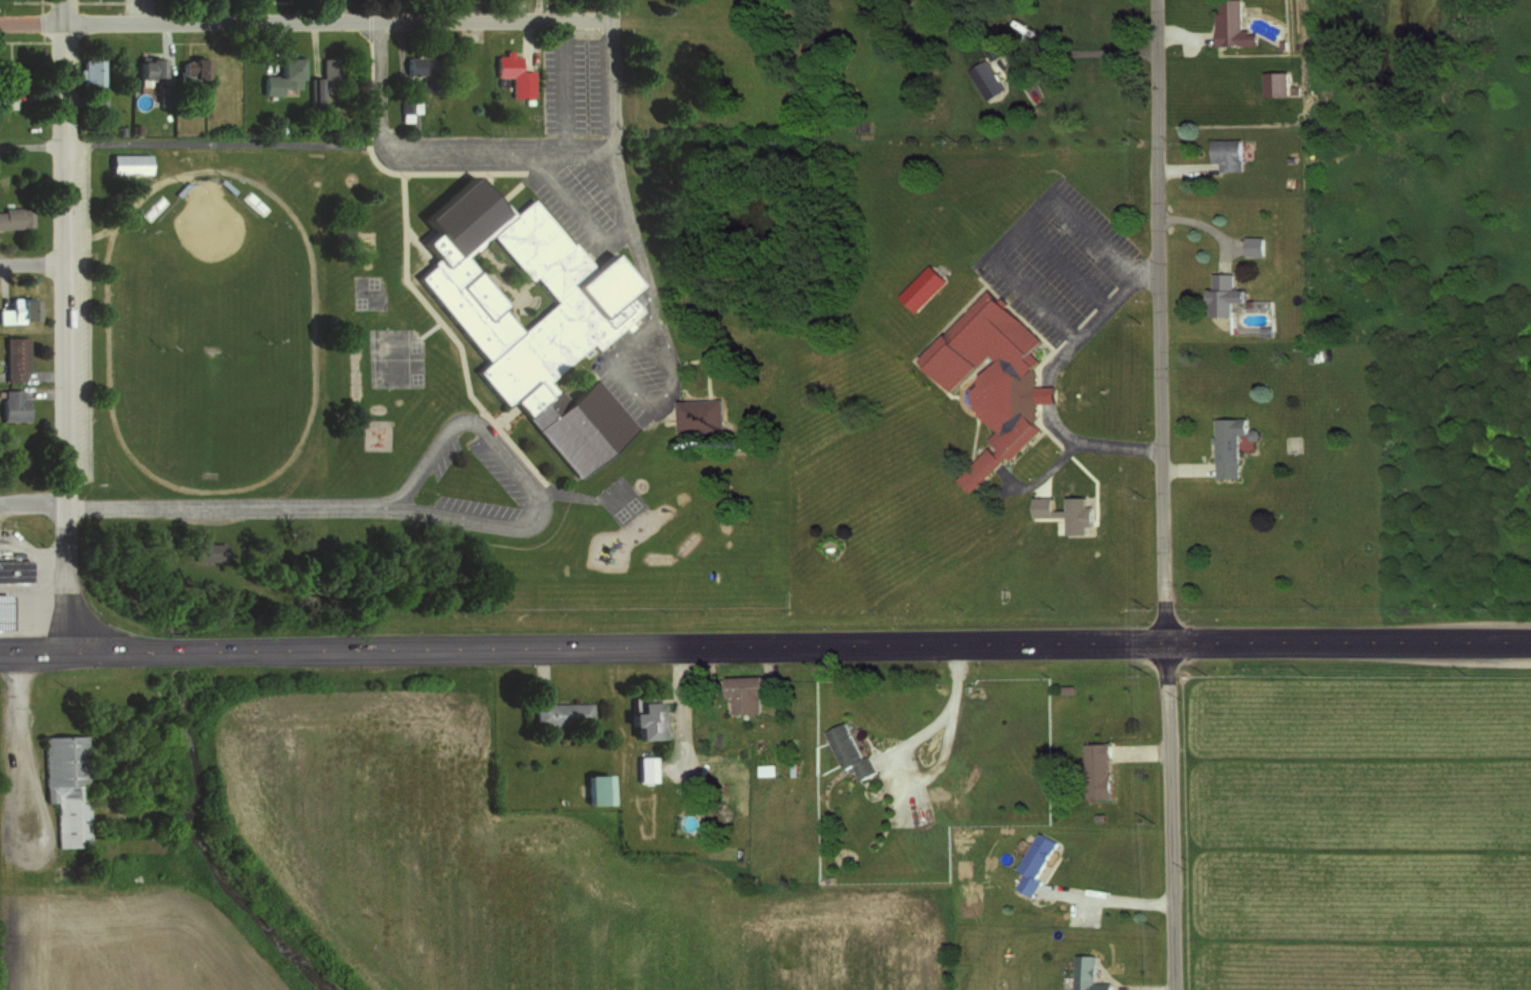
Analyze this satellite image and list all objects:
road: (518, 10)
road: (533, 10)
road: (610, 10)
road: (260, 11)
road: (62, 12)
road: (136, 12)
road: (304, 22)
building: (1230, 24)
building: (1021, 27)
road: (1184, 31)
road: (526, 42)
building: (992, 42)
road: (1037, 42)
building: (1280, 42)
road: (166, 43)
road: (312, 44)
road: (268, 45)
building: (418, 64)
building: (146, 65)
road: (69, 66)
building: (190, 66)
building: (512, 73)
building: (279, 74)
building: (984, 76)
building: (89, 80)
building: (1272, 81)
parking lot: (572, 83)
building: (8, 86)
building: (313, 87)
building: (1293, 87)
building: (406, 104)
building: (136, 127)
building: (119, 128)
building: (281, 128)
road: (190, 142)
building: (1224, 150)
road: (429, 161)
building: (126, 162)
road: (1183, 167)
road: (448, 170)
road: (613, 178)
building: (224, 185)
building: (179, 186)
road: (500, 196)
parking lot: (579, 200)
building: (255, 201)
building: (154, 206)
road: (581, 214)
building: (15, 220)
road: (1023, 222)
road: (1204, 223)
road: (407, 232)
building: (1252, 244)
parking lot: (1058, 261)
road: (32, 265)
road: (1065, 265)
building: (926, 287)
park: (368, 291)
building: (1220, 291)
building: (17, 311)
building: (576, 318)
road: (1161, 320)
park: (214, 321)
road: (427, 327)
building: (1264, 329)
road: (451, 335)
road: (65, 337)
park: (395, 355)
building: (13, 359)
road: (708, 359)
parking lot: (642, 371)
building: (988, 378)
road: (1049, 379)
road: (626, 386)
building: (11, 405)
road: (310, 406)
road: (502, 413)
building: (700, 414)
road: (482, 431)
building: (1226, 443)
road: (1186, 468)
parking lot: (507, 470)
road: (568, 492)
park: (618, 496)
road: (235, 505)
road: (33, 506)
building: (1070, 514)
building: (207, 549)
building: (12, 567)
building: (2, 610)
road: (1348, 641)
road: (582, 646)
building: (746, 691)
building: (560, 713)
building: (643, 718)
building: (850, 751)
building: (713, 768)
building: (1098, 770)
building: (65, 785)
building: (598, 789)
road: (1170, 815)
crop: (506, 862)
building: (1035, 864)
road: (1114, 896)
building: (1087, 974)

